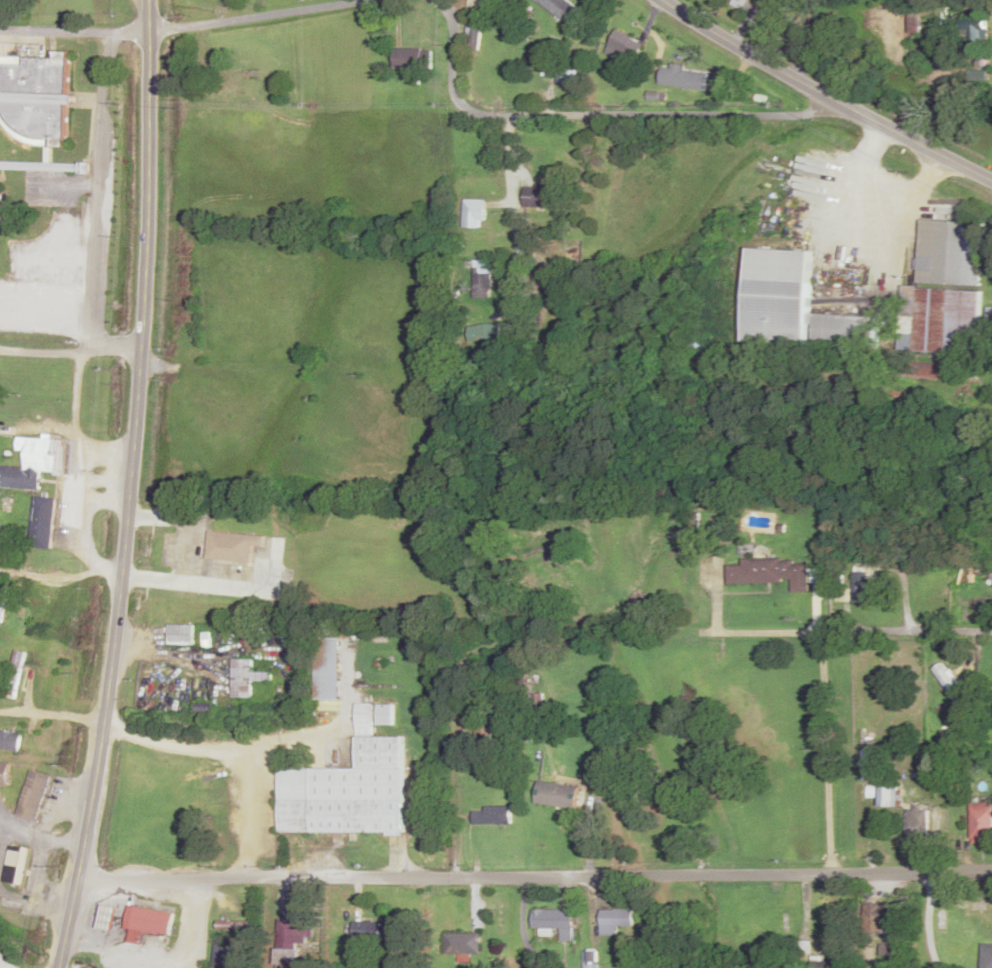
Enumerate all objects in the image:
building: (738, 3)
building: (561, 9)
road: (253, 15)
road: (75, 28)
building: (475, 30)
building: (967, 32)
building: (625, 48)
building: (411, 59)
building: (552, 73)
building: (684, 79)
road: (825, 95)
building: (34, 100)
road: (593, 112)
building: (24, 166)
building: (0, 193)
building: (545, 196)
building: (474, 210)
road: (593, 222)
building: (950, 253)
building: (796, 306)
building: (943, 319)
building: (483, 333)
road: (69, 345)
building: (923, 371)
building: (33, 462)
road: (128, 486)
building: (43, 522)
building: (233, 547)
building: (771, 573)
building: (872, 588)
building: (2, 601)
road: (907, 629)
building: (180, 635)
building: (328, 656)
building: (14, 674)
building: (246, 678)
building: (949, 685)
building: (385, 714)
road: (790, 737)
building: (9, 741)
building: (866, 758)
building: (3, 773)
building: (346, 793)
building: (883, 795)
building: (32, 796)
building: (558, 796)
building: (491, 816)
building: (981, 823)
building: (918, 826)
building: (16, 865)
road: (533, 866)
road: (223, 916)
building: (109, 918)
building: (615, 921)
building: (147, 923)
building: (553, 924)
building: (885, 925)
building: (374, 931)
building: (295, 932)
building: (462, 944)
building: (225, 954)
building: (986, 957)
building: (286, 958)
building: (590, 959)
building: (818, 965)

